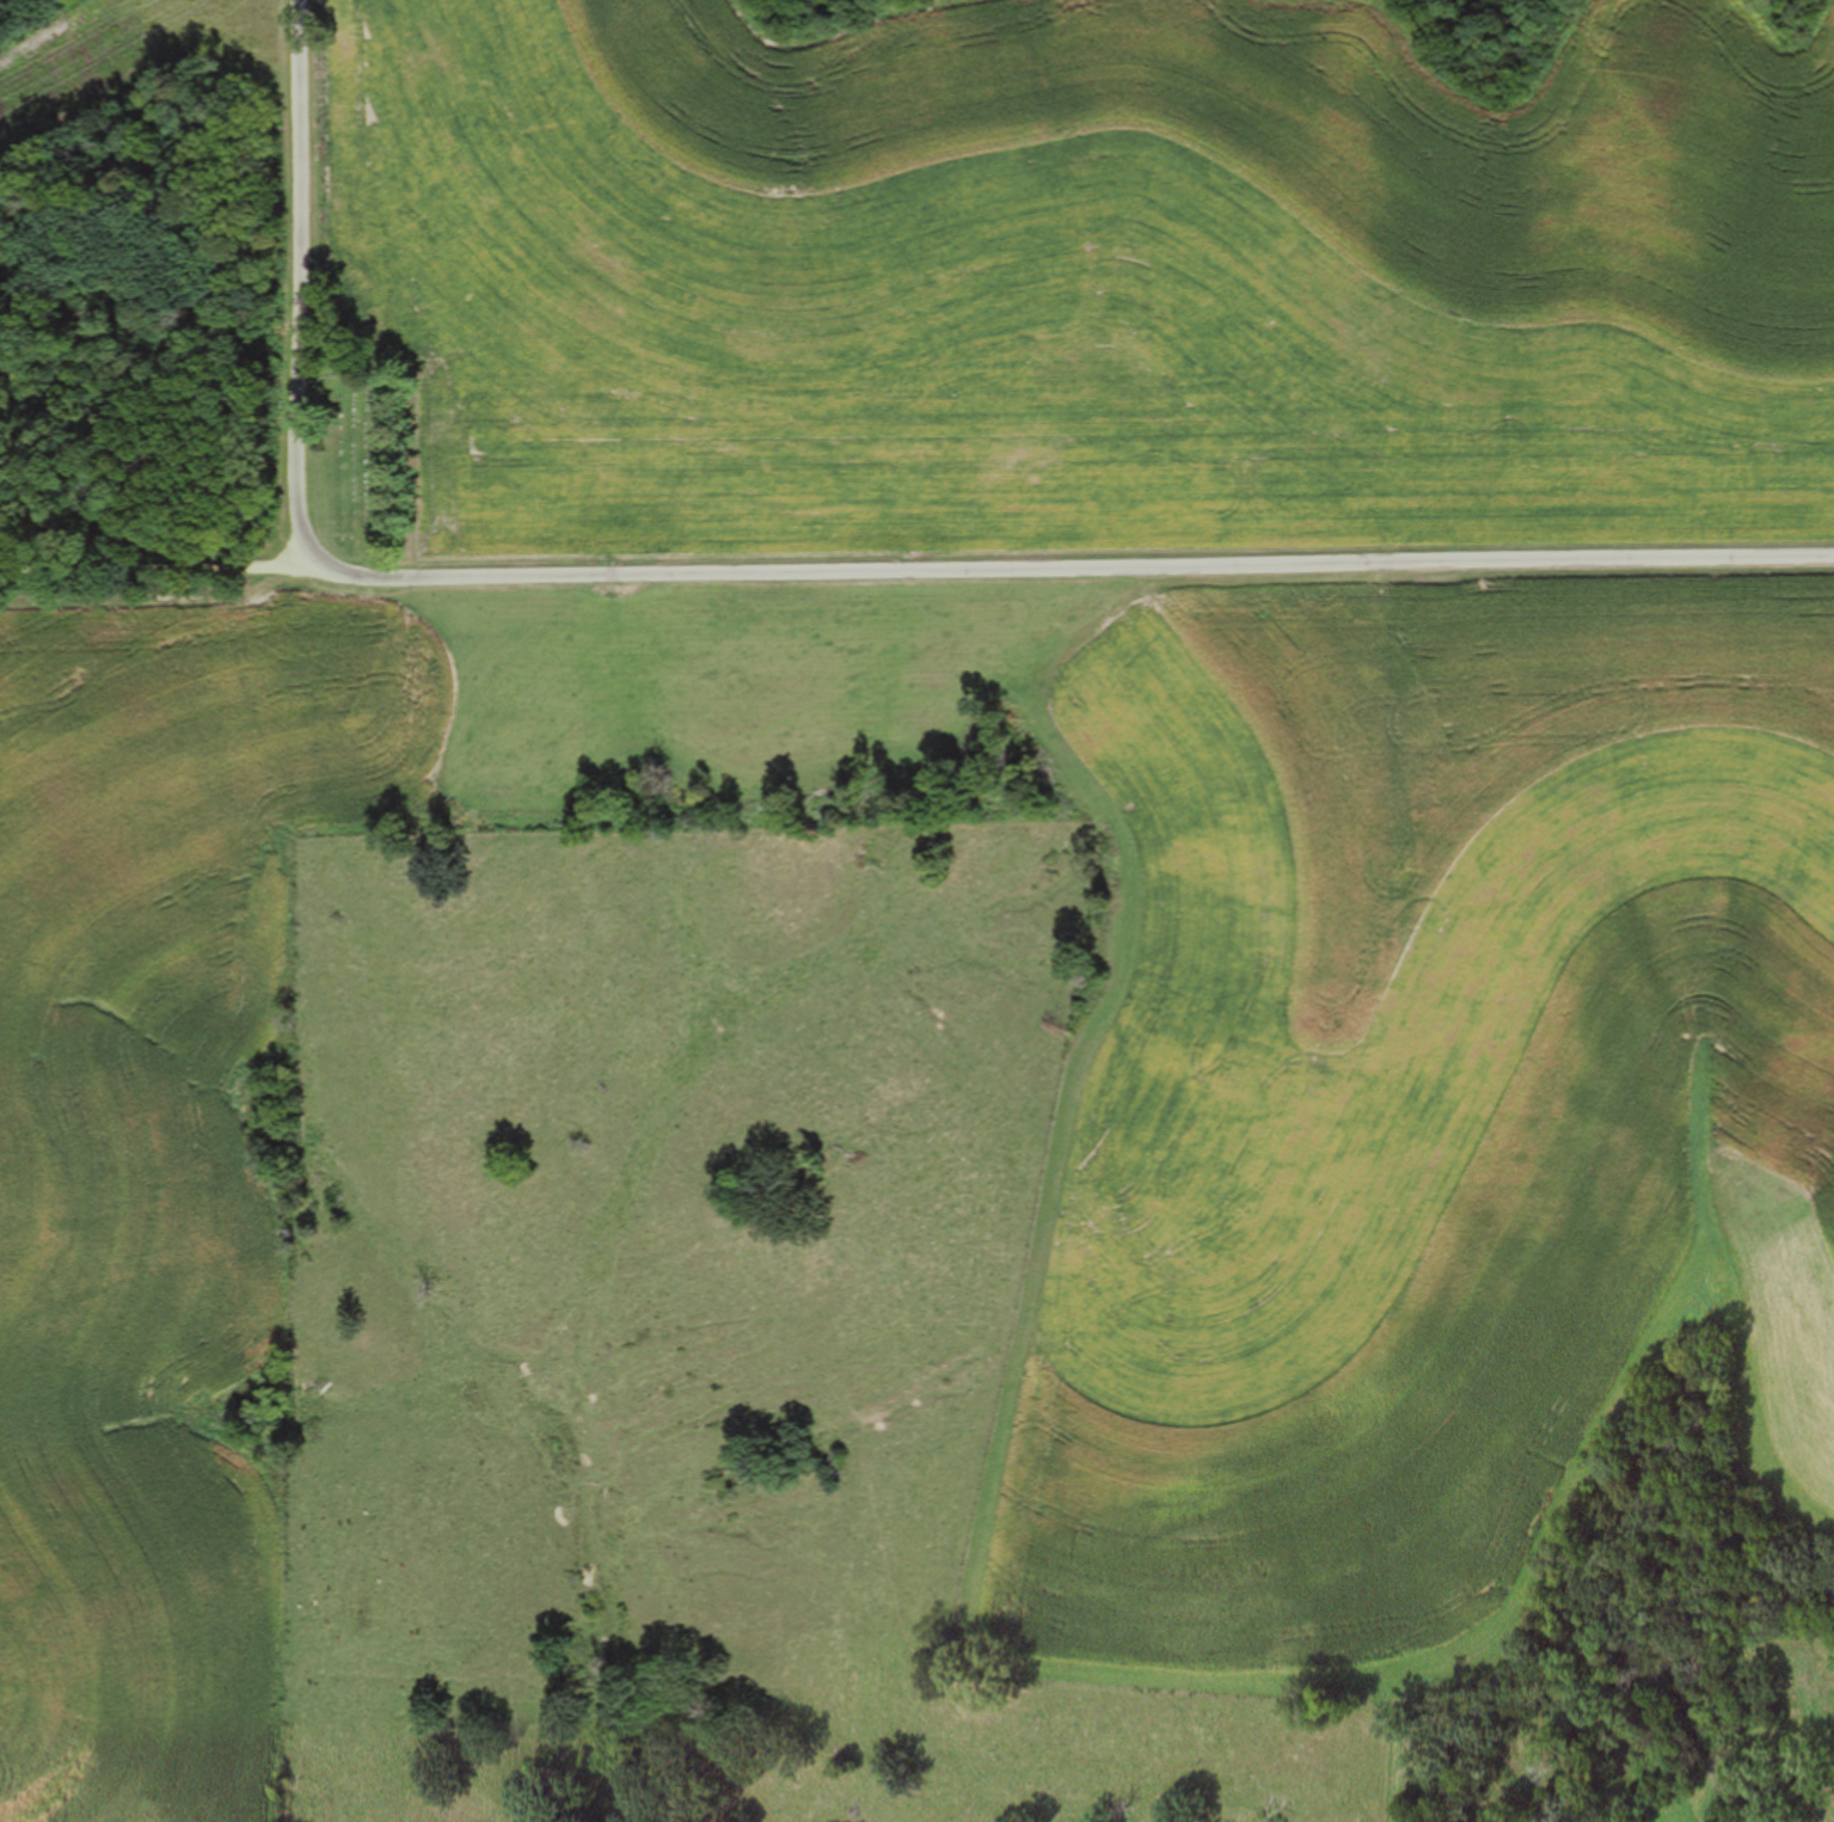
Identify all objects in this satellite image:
road: (306, 277)
road: (1074, 568)
road: (182, 601)

